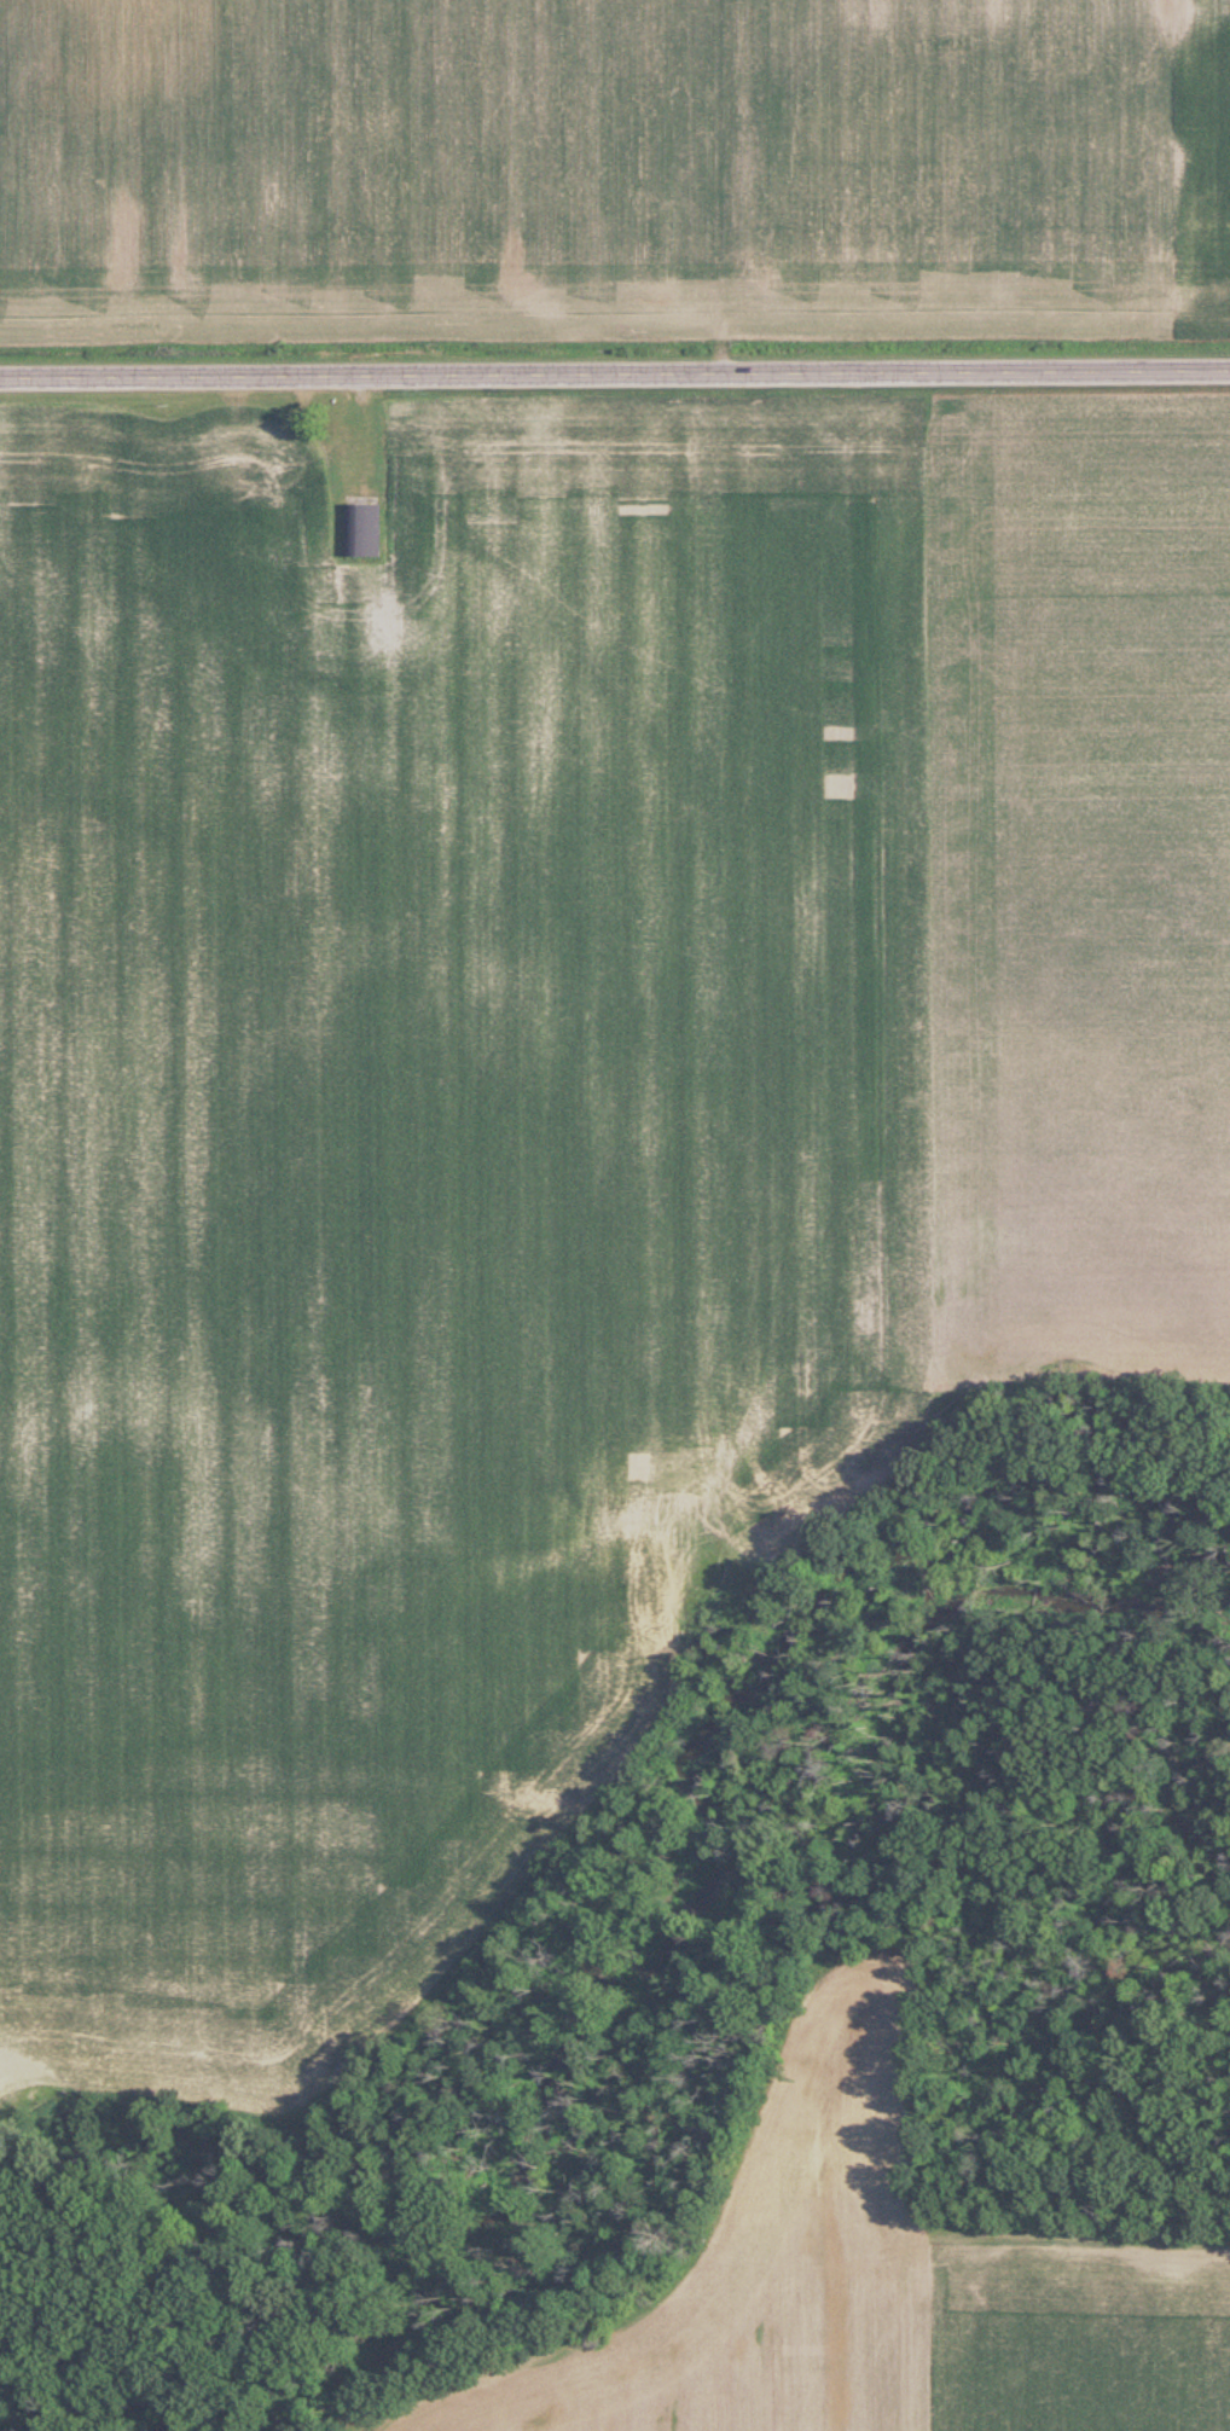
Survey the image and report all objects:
road: (615, 375)
river: (703, 1864)
river: (71, 2369)

